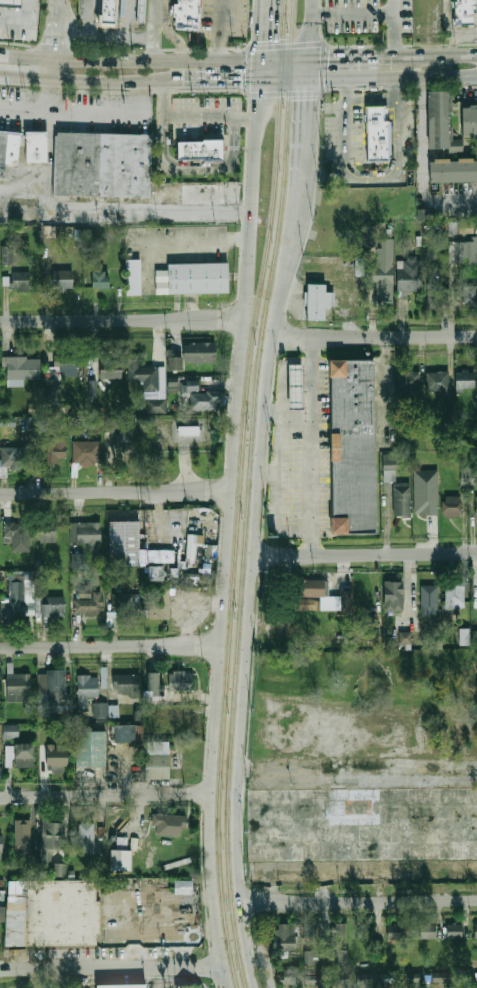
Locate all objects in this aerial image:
road: (59, 2)
building: (13, 3)
gas station: (13, 3)
road: (156, 7)
building: (179, 10)
building: (112, 11)
building: (141, 11)
building: (466, 11)
road: (357, 12)
building: (191, 14)
road: (22, 19)
building: (104, 19)
parking lot: (229, 19)
road: (451, 27)
road: (315, 28)
road: (263, 29)
road: (56, 31)
road: (226, 31)
road: (169, 32)
parking lot: (18, 35)
road: (154, 37)
traffic signals: (263, 39)
road: (422, 55)
traffic signals: (328, 56)
road: (340, 56)
road: (287, 57)
road: (130, 61)
road: (313, 68)
road: (52, 69)
road: (260, 69)
road: (25, 77)
road: (395, 78)
road: (112, 80)
road: (217, 80)
traffic signals: (239, 80)
road: (286, 80)
road: (50, 93)
road: (369, 96)
traffic signals: (312, 99)
road: (69, 107)
road: (191, 115)
building: (469, 121)
building: (441, 123)
building: (378, 135)
building: (34, 146)
road: (312, 146)
building: (8, 148)
building: (199, 149)
building: (211, 160)
building: (100, 164)
road: (420, 164)
road: (194, 166)
building: (453, 170)
road: (328, 174)
road: (370, 180)
road: (249, 186)
road: (121, 209)
building: (423, 214)
building: (465, 227)
building: (49, 231)
road: (200, 241)
road: (294, 245)
building: (463, 252)
building: (6, 254)
building: (385, 265)
building: (134, 277)
building: (198, 277)
building: (410, 277)
building: (100, 279)
building: (20, 280)
building: (62, 280)
building: (436, 294)
building: (468, 295)
building: (315, 301)
road: (120, 321)
road: (372, 335)
building: (199, 353)
building: (68, 363)
building: (174, 364)
building: (23, 368)
building: (109, 368)
building: (466, 381)
building: (411, 382)
building: (438, 382)
building: (149, 384)
building: (181, 385)
building: (295, 385)
gas station: (295, 385)
building: (92, 388)
building: (53, 390)
building: (201, 397)
building: (32, 407)
building: (110, 423)
building: (188, 430)
building: (125, 443)
road: (277, 444)
road: (310, 444)
building: (352, 445)
building: (56, 447)
building: (87, 452)
building: (14, 458)
building: (389, 473)
building: (467, 475)
road: (114, 492)
building: (423, 492)
railway: (237, 493)
railway: (245, 493)
building: (400, 500)
building: (476, 504)
building: (451, 507)
building: (48, 532)
building: (86, 533)
building: (18, 535)
building: (124, 543)
building: (191, 546)
road: (364, 553)
building: (77, 560)
building: (161, 565)
building: (310, 588)
building: (393, 596)
building: (453, 597)
building: (17, 598)
building: (429, 599)
building: (88, 601)
building: (347, 602)
building: (159, 603)
building: (125, 604)
building: (308, 604)
building: (51, 606)
building: (285, 626)
road: (245, 633)
building: (464, 636)
building: (404, 637)
building: (474, 637)
road: (219, 641)
road: (109, 647)
building: (180, 680)
building: (121, 681)
building: (153, 682)
building: (18, 683)
building: (54, 687)
building: (85, 689)
building: (100, 708)
building: (10, 731)
building: (128, 733)
building: (90, 748)
building: (24, 755)
building: (8, 756)
building: (192, 757)
building: (56, 758)
building: (157, 759)
road: (104, 796)
building: (168, 824)
building: (86, 832)
building: (23, 835)
building: (51, 838)
building: (1, 842)
building: (120, 860)
building: (59, 869)
building: (183, 887)
road: (357, 902)
building: (51, 912)
building: (2, 914)
building: (309, 930)
building: (341, 930)
building: (454, 930)
building: (475, 930)
building: (427, 931)
building: (365, 932)
building: (395, 932)
building: (285, 936)
building: (342, 956)
building: (310, 957)
road: (261, 958)
road: (254, 961)
road: (110, 969)
building: (288, 976)
building: (312, 977)
building: (415, 977)
building: (364, 978)
building: (441, 978)
building: (121, 985)
building: (197, 986)

